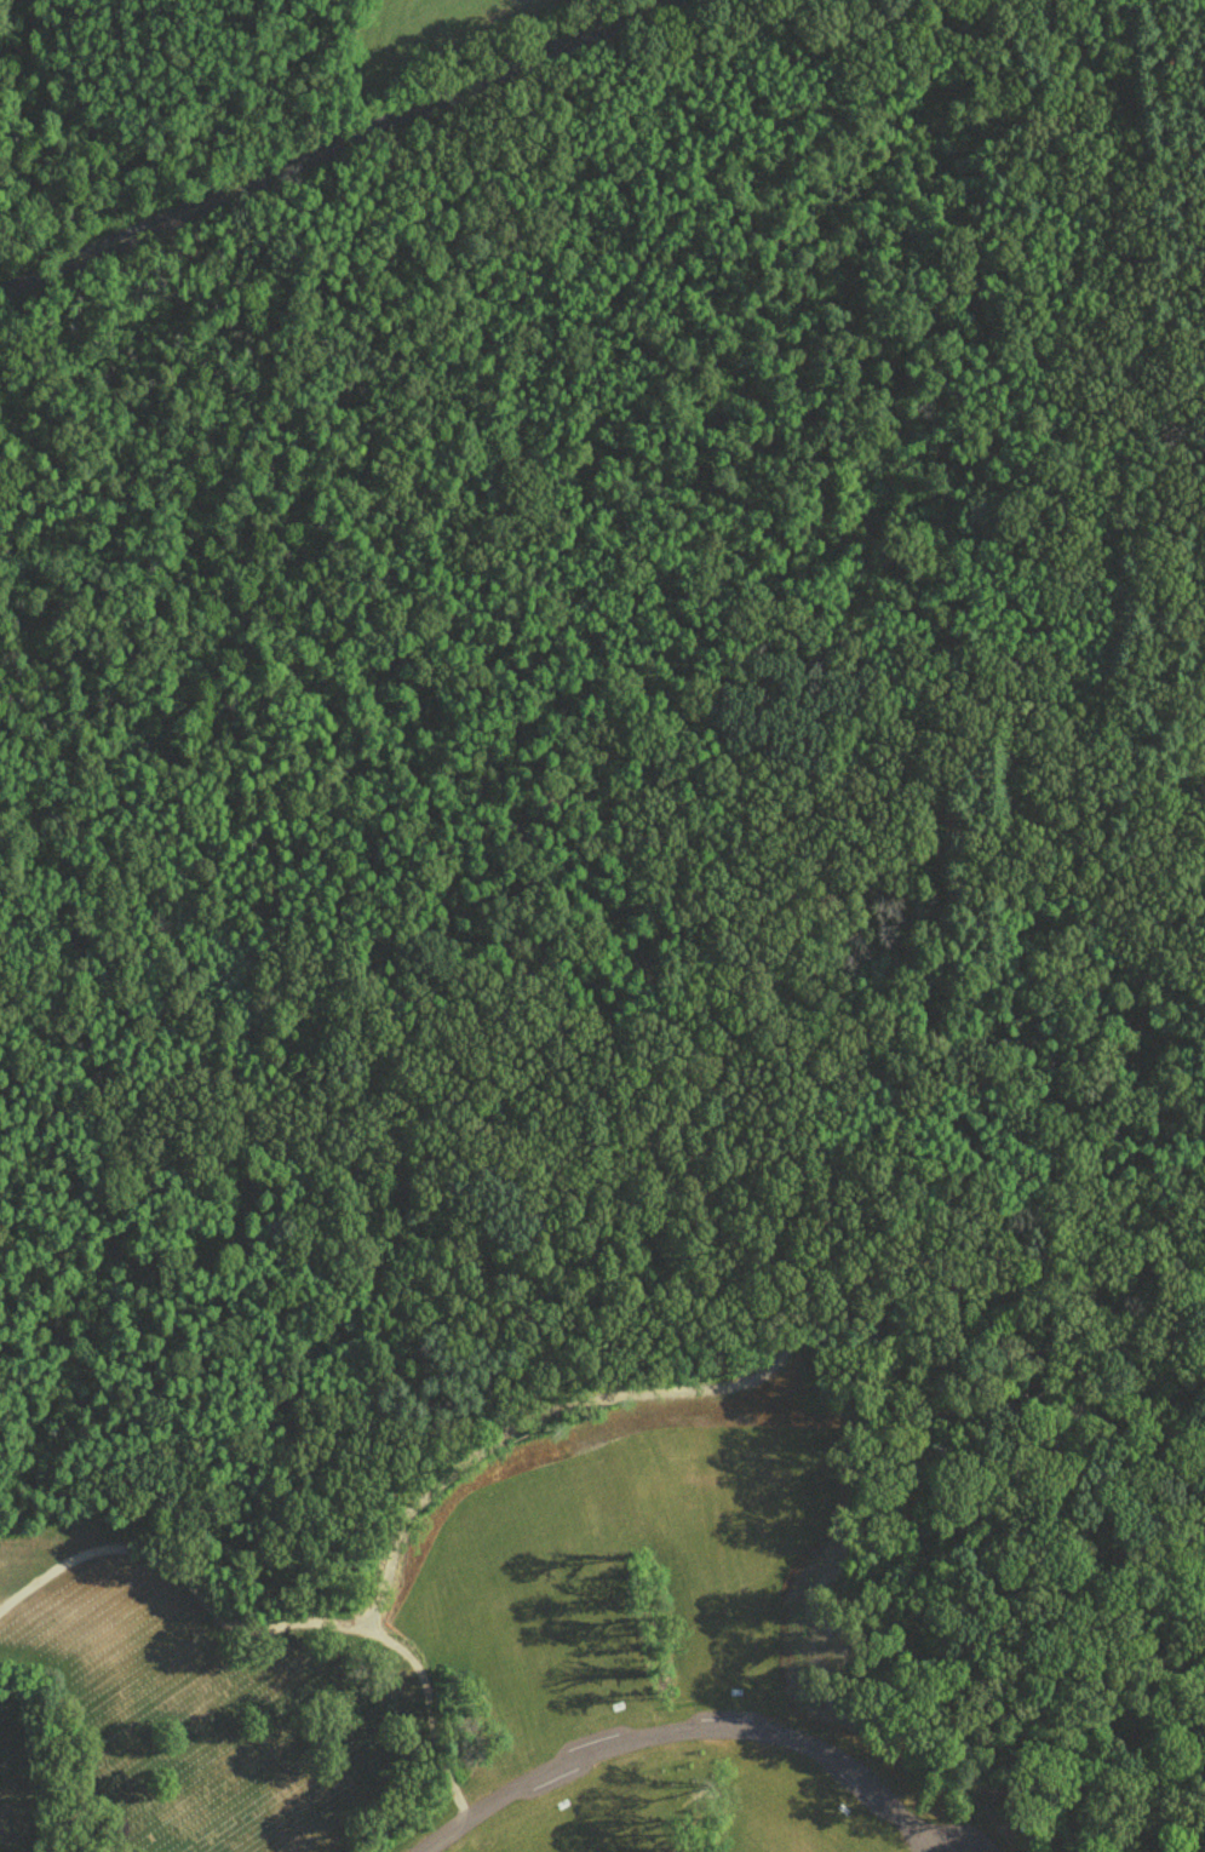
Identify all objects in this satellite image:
road: (320, 151)
road: (644, 1073)
road: (770, 1363)
road: (268, 1625)
park: (481, 1647)
road: (681, 1728)

